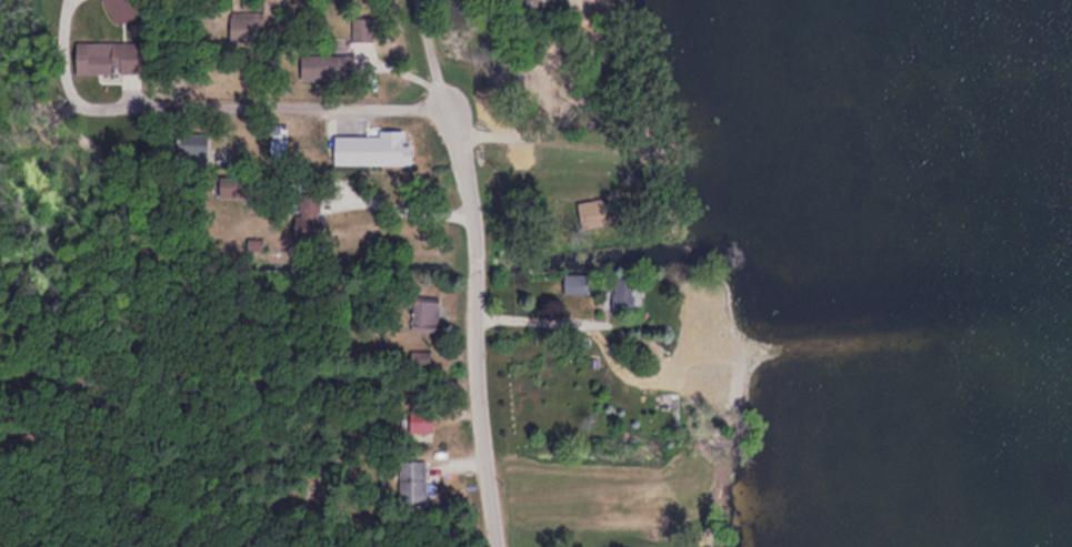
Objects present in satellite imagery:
building: (533, 0)
building: (120, 9)
building: (242, 27)
building: (361, 28)
building: (103, 55)
building: (323, 67)
road: (223, 109)
building: (594, 121)
building: (191, 143)
building: (374, 148)
building: (304, 215)
road: (474, 270)
building: (573, 283)
building: (619, 292)
building: (421, 313)
building: (657, 404)
building: (419, 417)
building: (410, 479)

